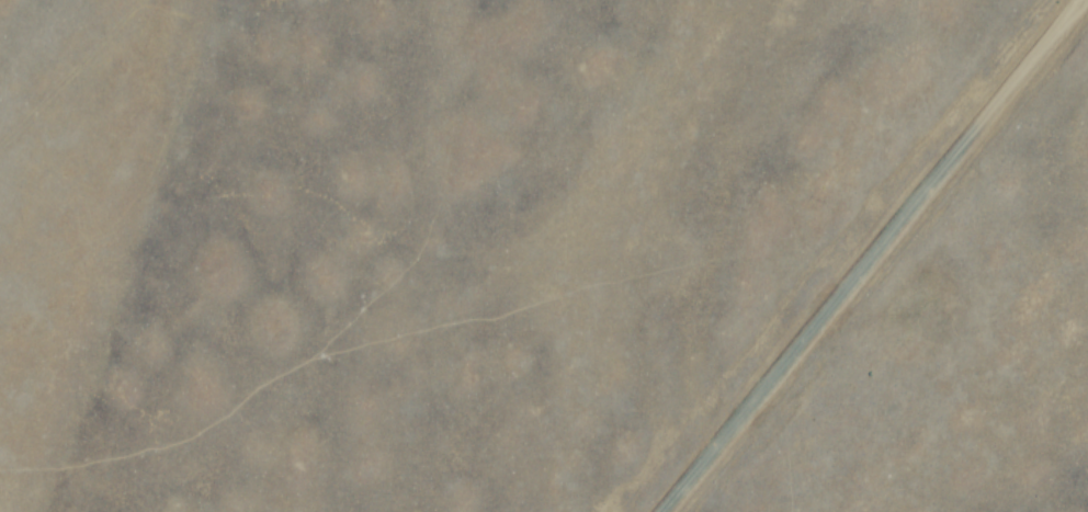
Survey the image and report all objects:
road: (838, 255)

